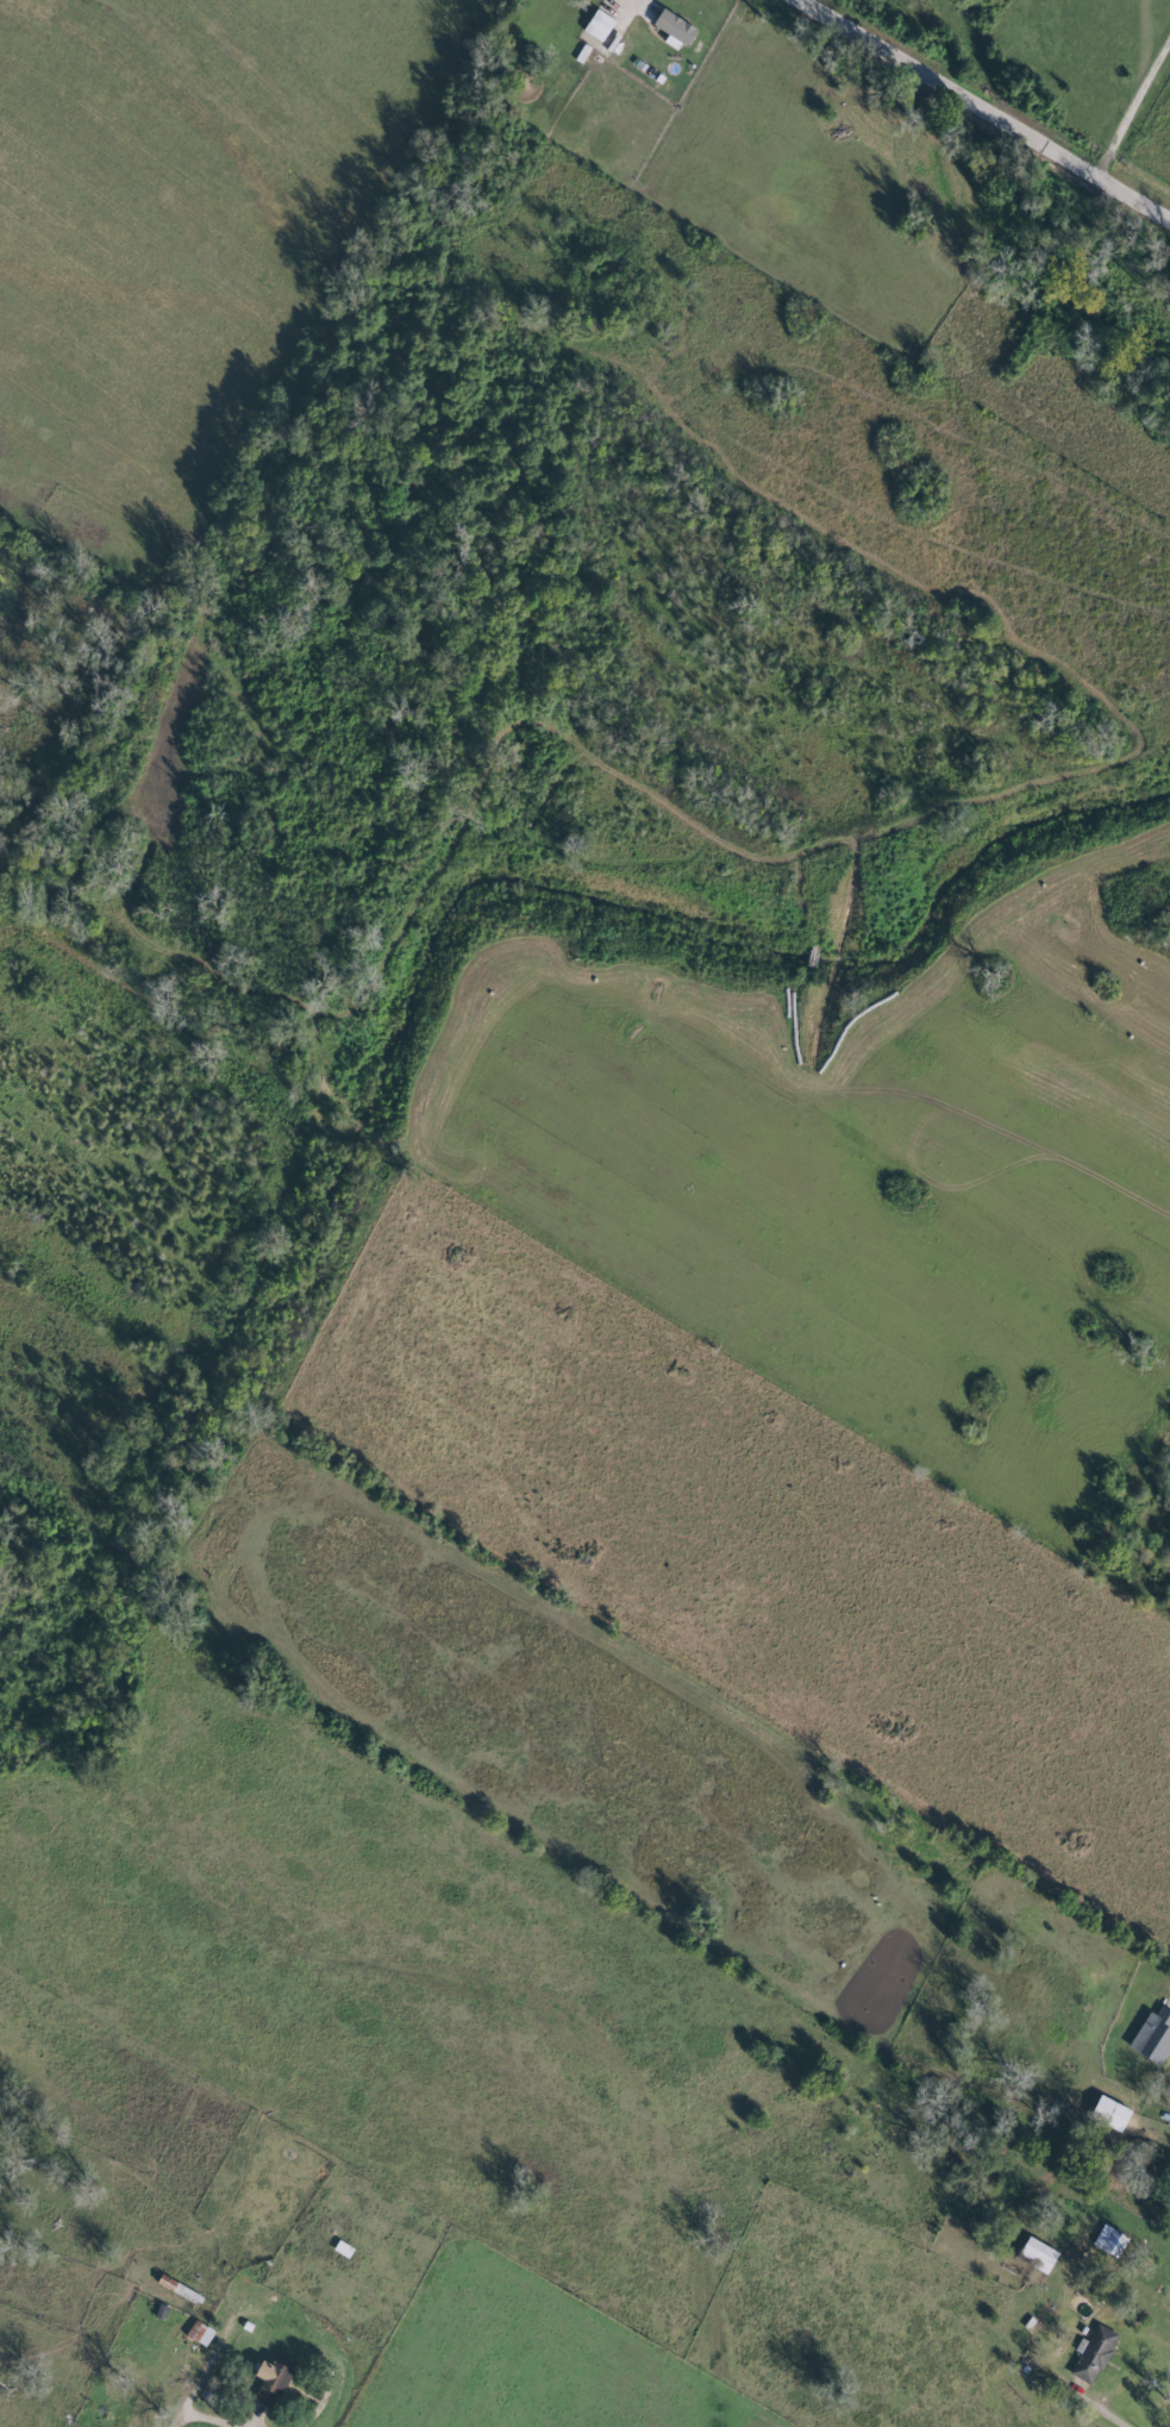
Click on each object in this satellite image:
building: (597, 29)
building: (676, 29)
road: (986, 100)
road: (1135, 111)
road: (895, 1172)
road: (771, 1389)
building: (1153, 2035)
building: (1113, 2114)
building: (1110, 2240)
building: (1040, 2253)
building: (177, 2288)
building: (200, 2333)
building: (1093, 2353)
road: (1063, 2366)
building: (275, 2381)
road: (194, 2400)

